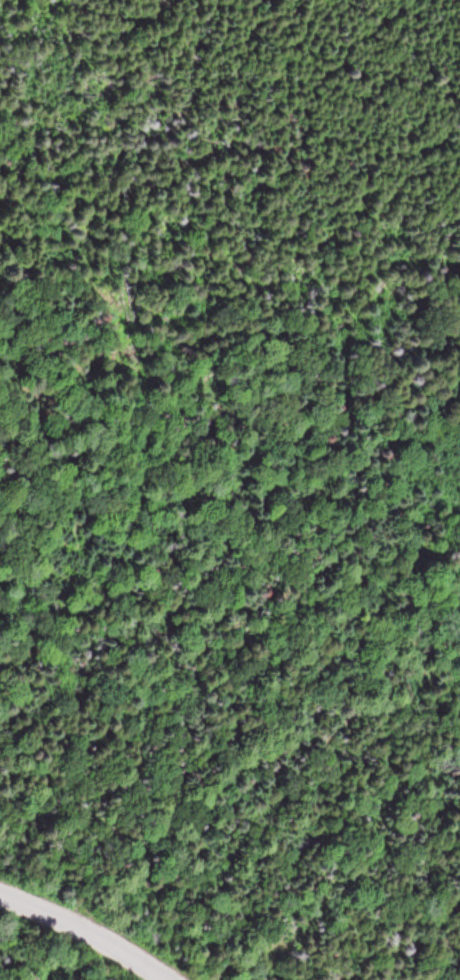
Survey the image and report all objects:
road: (87, 928)

